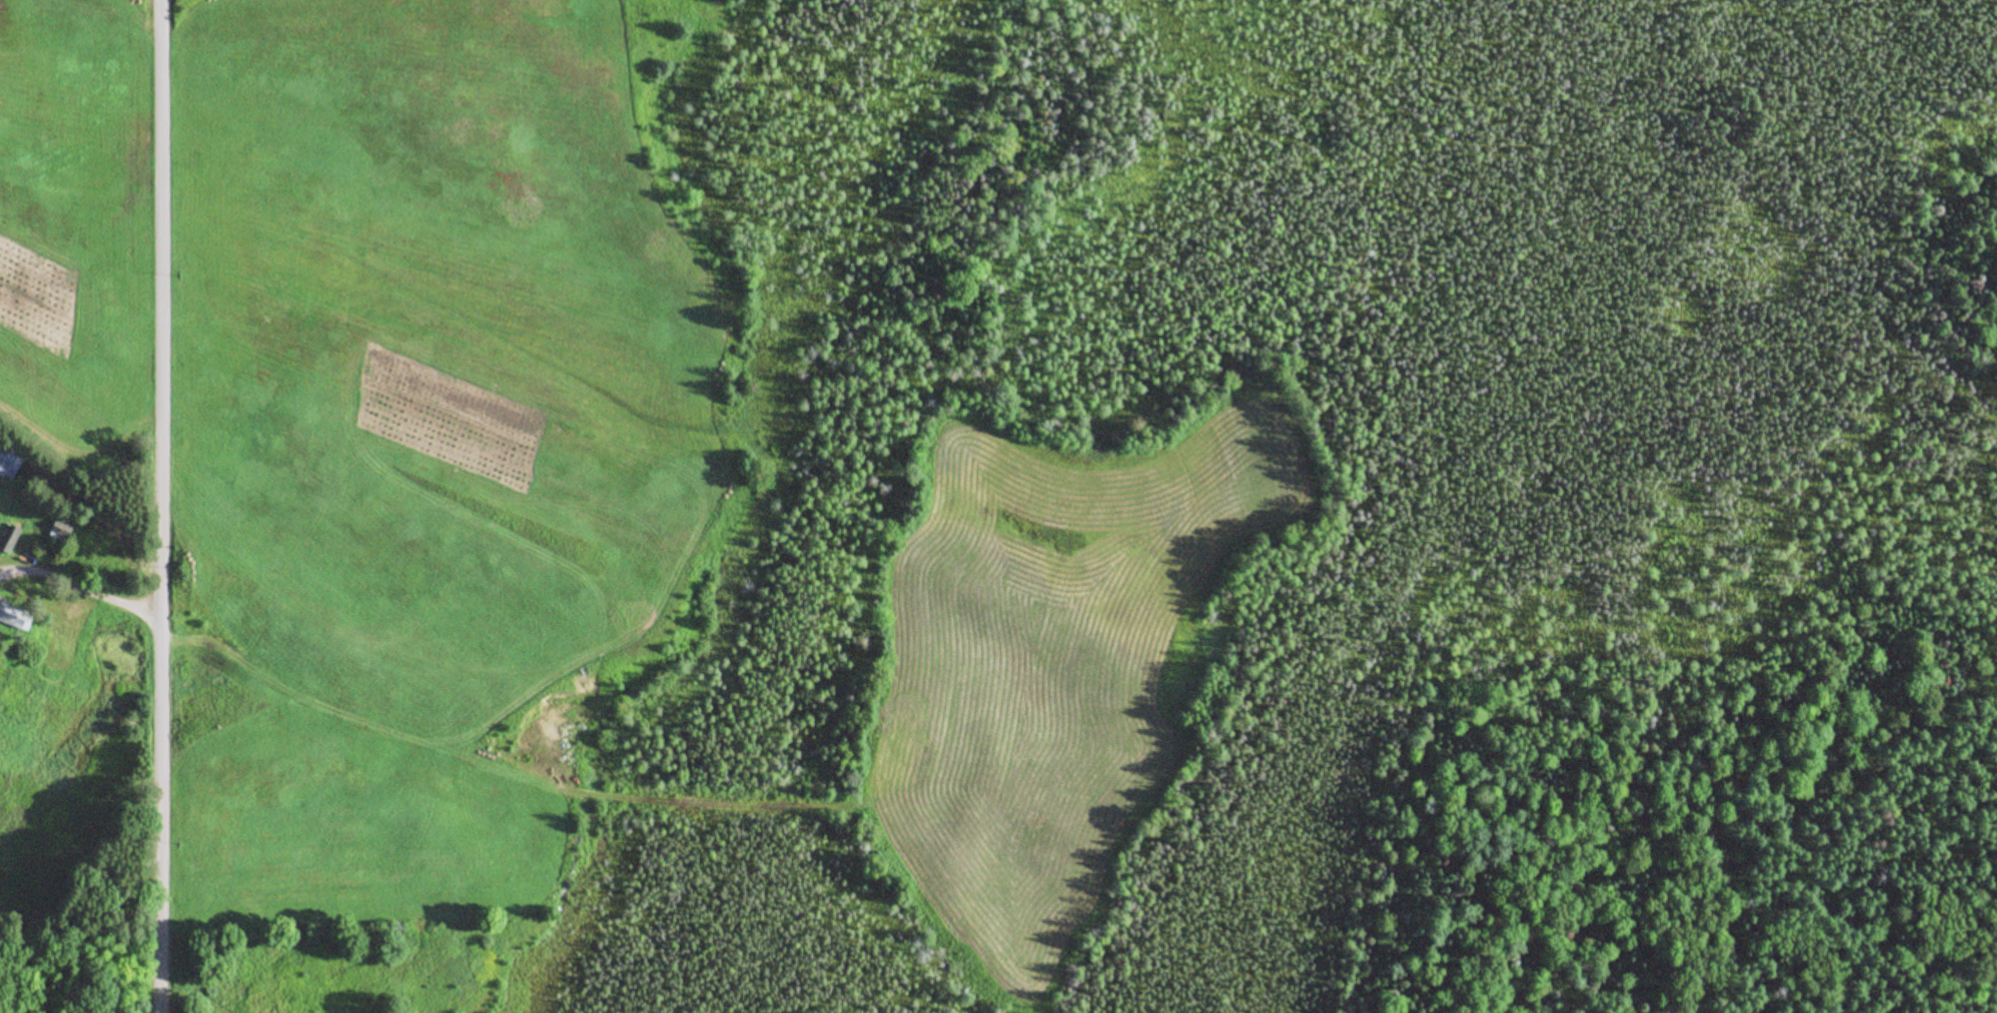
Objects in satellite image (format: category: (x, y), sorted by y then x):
road: (160, 506)
building: (58, 529)
building: (8, 535)
building: (6, 614)

